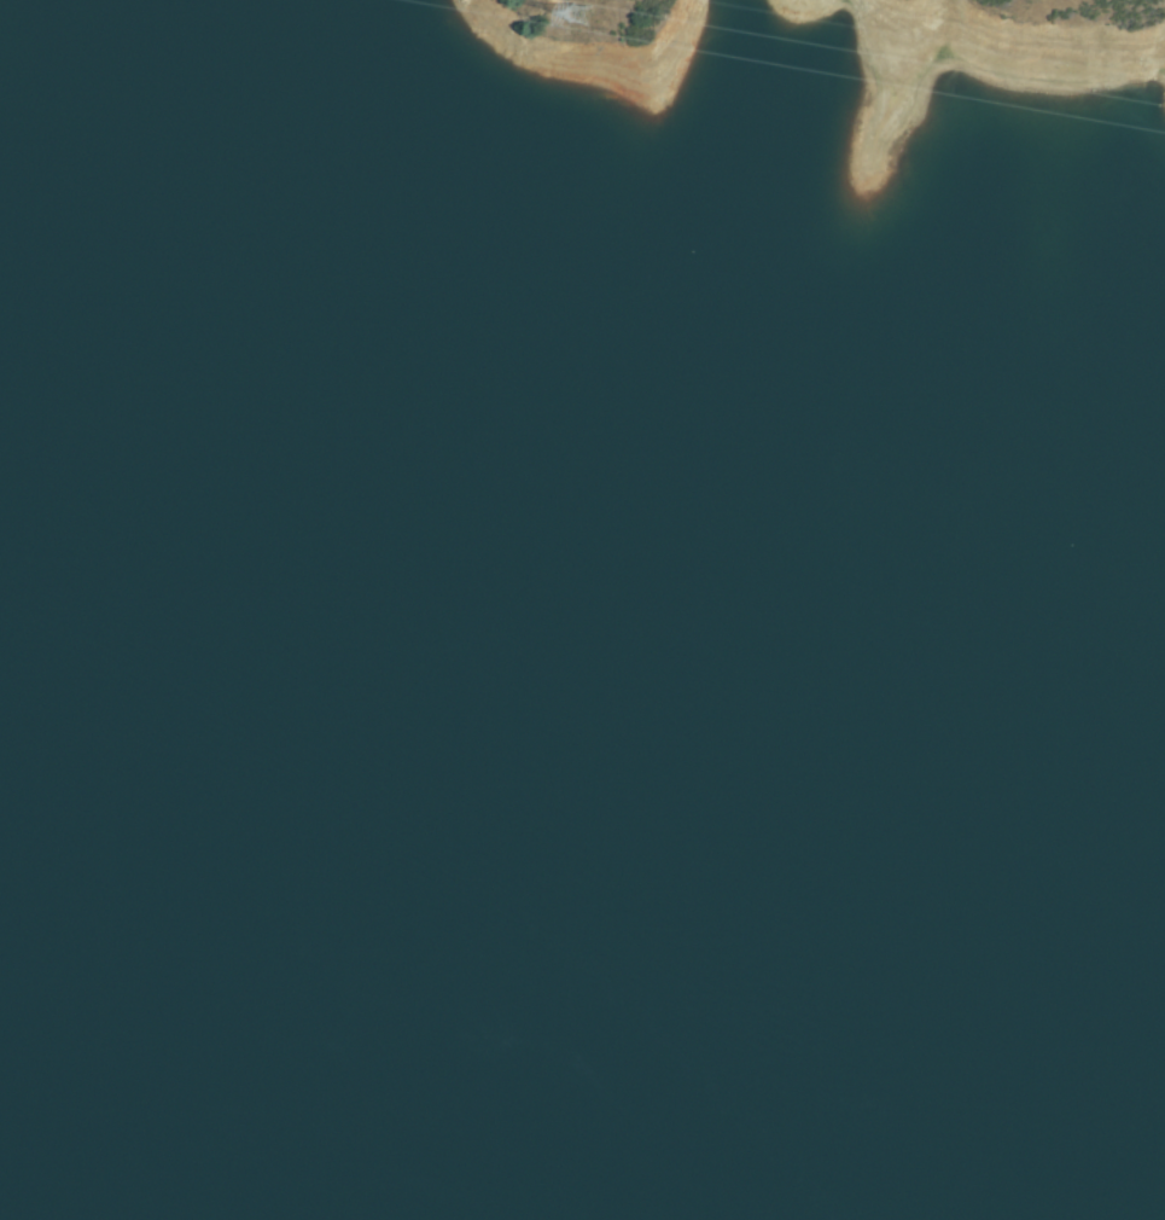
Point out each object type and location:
power tower: (582, 16)

